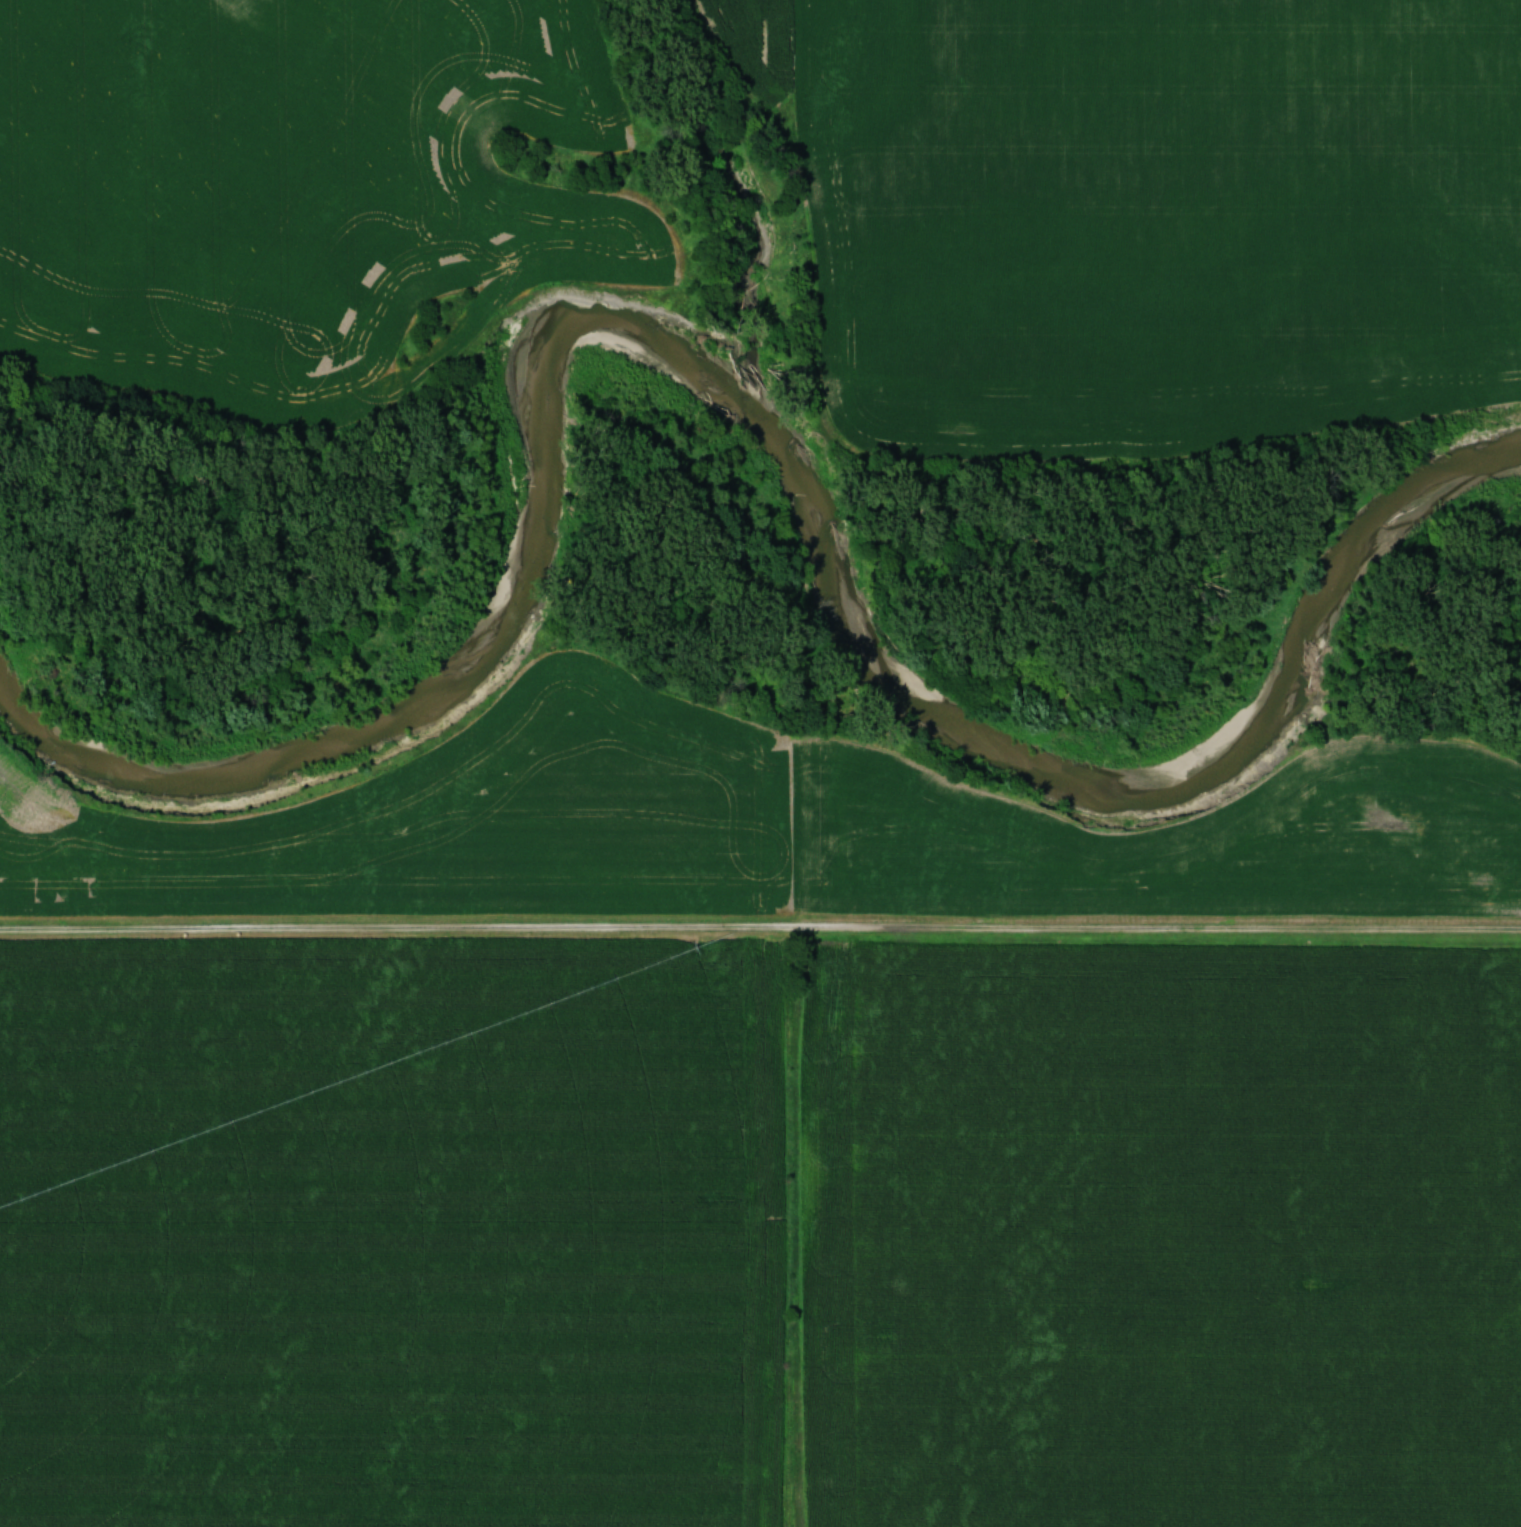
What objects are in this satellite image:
river: (725, 394)
road: (760, 930)

